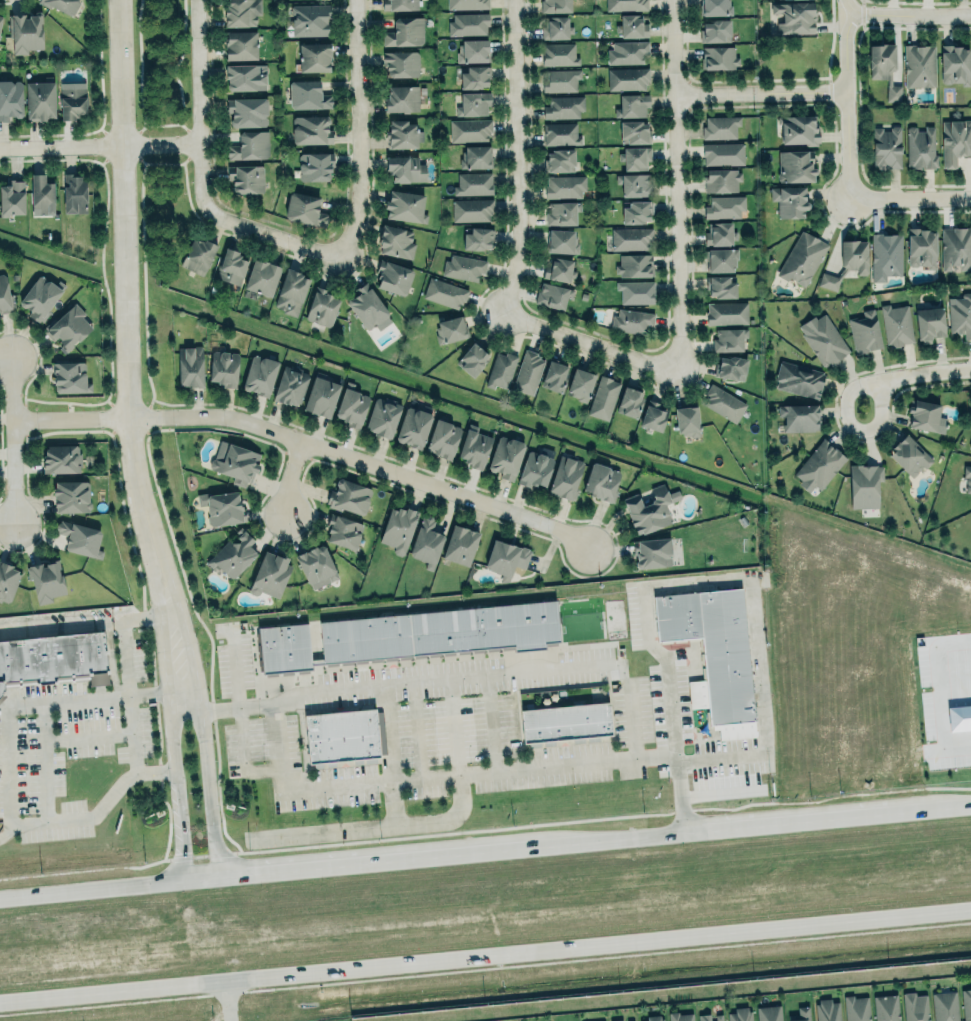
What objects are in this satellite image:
building: (400, 4)
building: (467, 4)
building: (625, 4)
building: (62, 5)
building: (555, 6)
building: (715, 7)
building: (242, 12)
road: (908, 16)
building: (0, 17)
building: (793, 17)
building: (310, 19)
building: (468, 24)
building: (632, 26)
building: (556, 28)
building: (404, 31)
building: (716, 31)
building: (25, 32)
building: (241, 45)
building: (473, 50)
building: (627, 52)
building: (557, 53)
building: (314, 57)
building: (718, 57)
building: (401, 63)
building: (955, 64)
building: (919, 65)
building: (885, 68)
building: (245, 76)
building: (473, 77)
building: (624, 77)
building: (561, 80)
building: (423, 90)
road: (763, 93)
building: (308, 95)
building: (402, 98)
building: (10, 99)
building: (40, 99)
building: (71, 100)
building: (474, 100)
road: (849, 100)
road: (202, 105)
building: (633, 105)
building: (564, 106)
building: (247, 111)
building: (720, 127)
building: (311, 129)
road: (360, 129)
building: (469, 129)
building: (799, 129)
building: (634, 131)
building: (401, 132)
building: (561, 133)
building: (956, 141)
road: (101, 145)
building: (249, 145)
building: (887, 147)
building: (921, 147)
building: (722, 151)
road: (520, 156)
building: (636, 157)
building: (559, 160)
building: (314, 166)
building: (795, 167)
building: (405, 168)
building: (246, 178)
building: (721, 180)
building: (474, 183)
building: (634, 184)
building: (565, 185)
road: (678, 186)
building: (73, 193)
building: (41, 195)
building: (12, 198)
road: (912, 200)
building: (790, 201)
building: (405, 206)
building: (725, 206)
building: (303, 209)
building: (471, 209)
building: (561, 212)
building: (637, 212)
road: (275, 233)
road: (125, 234)
building: (720, 234)
building: (478, 238)
building: (631, 239)
building: (562, 241)
building: (396, 242)
building: (921, 247)
building: (955, 248)
building: (198, 255)
building: (854, 255)
building: (886, 256)
building: (802, 258)
building: (721, 259)
building: (635, 265)
building: (231, 266)
building: (464, 266)
building: (559, 269)
building: (393, 276)
building: (262, 277)
building: (828, 281)
building: (719, 286)
building: (635, 291)
building: (291, 292)
building: (444, 292)
building: (552, 295)
building: (5, 296)
building: (41, 297)
building: (367, 306)
building: (321, 307)
building: (727, 313)
building: (960, 314)
building: (632, 320)
building: (929, 323)
building: (896, 324)
building: (68, 327)
building: (450, 329)
building: (865, 332)
building: (729, 339)
building: (824, 339)
road: (593, 341)
building: (472, 359)
building: (190, 366)
building: (223, 367)
building: (731, 367)
building: (501, 369)
building: (527, 371)
building: (260, 375)
building: (555, 376)
road: (911, 376)
building: (70, 377)
building: (798, 379)
building: (581, 384)
building: (290, 385)
building: (320, 396)
building: (603, 398)
building: (629, 401)
building: (724, 403)
building: (351, 406)
building: (653, 416)
building: (926, 416)
building: (383, 417)
building: (685, 417)
building: (800, 417)
building: (413, 428)
building: (442, 438)
road: (14, 440)
road: (311, 442)
building: (970, 444)
building: (475, 449)
building: (909, 455)
building: (506, 457)
building: (61, 459)
building: (235, 462)
building: (818, 465)
building: (535, 469)
road: (290, 476)
building: (565, 476)
building: (968, 477)
building: (601, 482)
building: (864, 485)
building: (71, 497)
building: (349, 497)
building: (222, 507)
building: (651, 510)
building: (398, 528)
building: (344, 532)
building: (80, 539)
building: (426, 542)
building: (460, 545)
building: (652, 552)
building: (234, 554)
building: (505, 557)
building: (317, 566)
building: (269, 574)
building: (7, 581)
building: (46, 581)
road: (731, 581)
road: (141, 616)
road: (114, 620)
road: (53, 625)
building: (440, 630)
building: (284, 647)
building: (713, 653)
building: (55, 657)
road: (194, 667)
road: (166, 672)
road: (491, 674)
road: (183, 687)
road: (28, 700)
building: (564, 712)
road: (131, 713)
road: (240, 714)
road: (43, 719)
road: (491, 722)
road: (453, 725)
road: (417, 729)
road: (387, 731)
building: (341, 735)
road: (438, 773)
road: (45, 790)
road: (394, 802)
road: (929, 807)
road: (785, 819)
road: (28, 822)
road: (376, 827)
road: (6, 830)
road: (609, 837)
road: (375, 860)
road: (200, 877)
road: (91, 889)
road: (485, 954)
railway: (547, 980)
road: (227, 1000)
building: (966, 1003)
building: (945, 1006)
building: (856, 1007)
building: (886, 1007)
building: (915, 1007)
building: (828, 1010)
building: (768, 1013)
building: (740, 1014)
building: (802, 1014)
building: (679, 1016)
building: (704, 1016)
building: (718, 1016)
building: (653, 1017)
building: (616, 1019)
building: (601, 1020)
building: (631, 1020)

